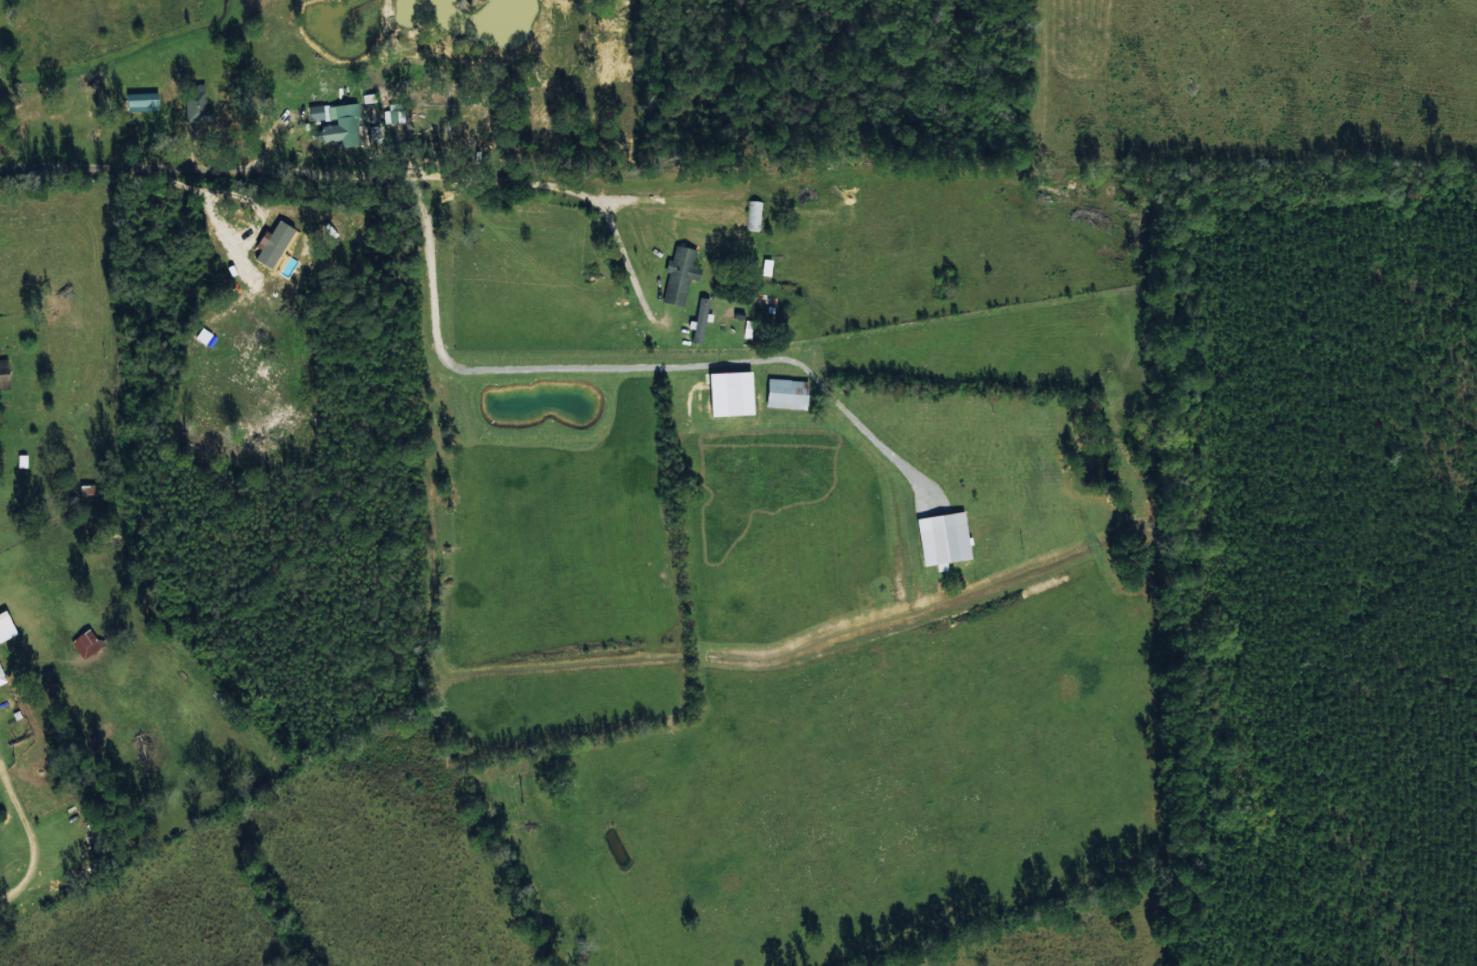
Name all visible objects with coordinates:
building: (142, 101)
building: (197, 103)
building: (316, 112)
building: (393, 113)
building: (340, 126)
road: (325, 180)
building: (680, 274)
building: (700, 320)
building: (4, 375)
building: (730, 393)
building: (787, 394)
building: (943, 539)
building: (86, 643)
building: (2, 676)
road: (13, 707)

